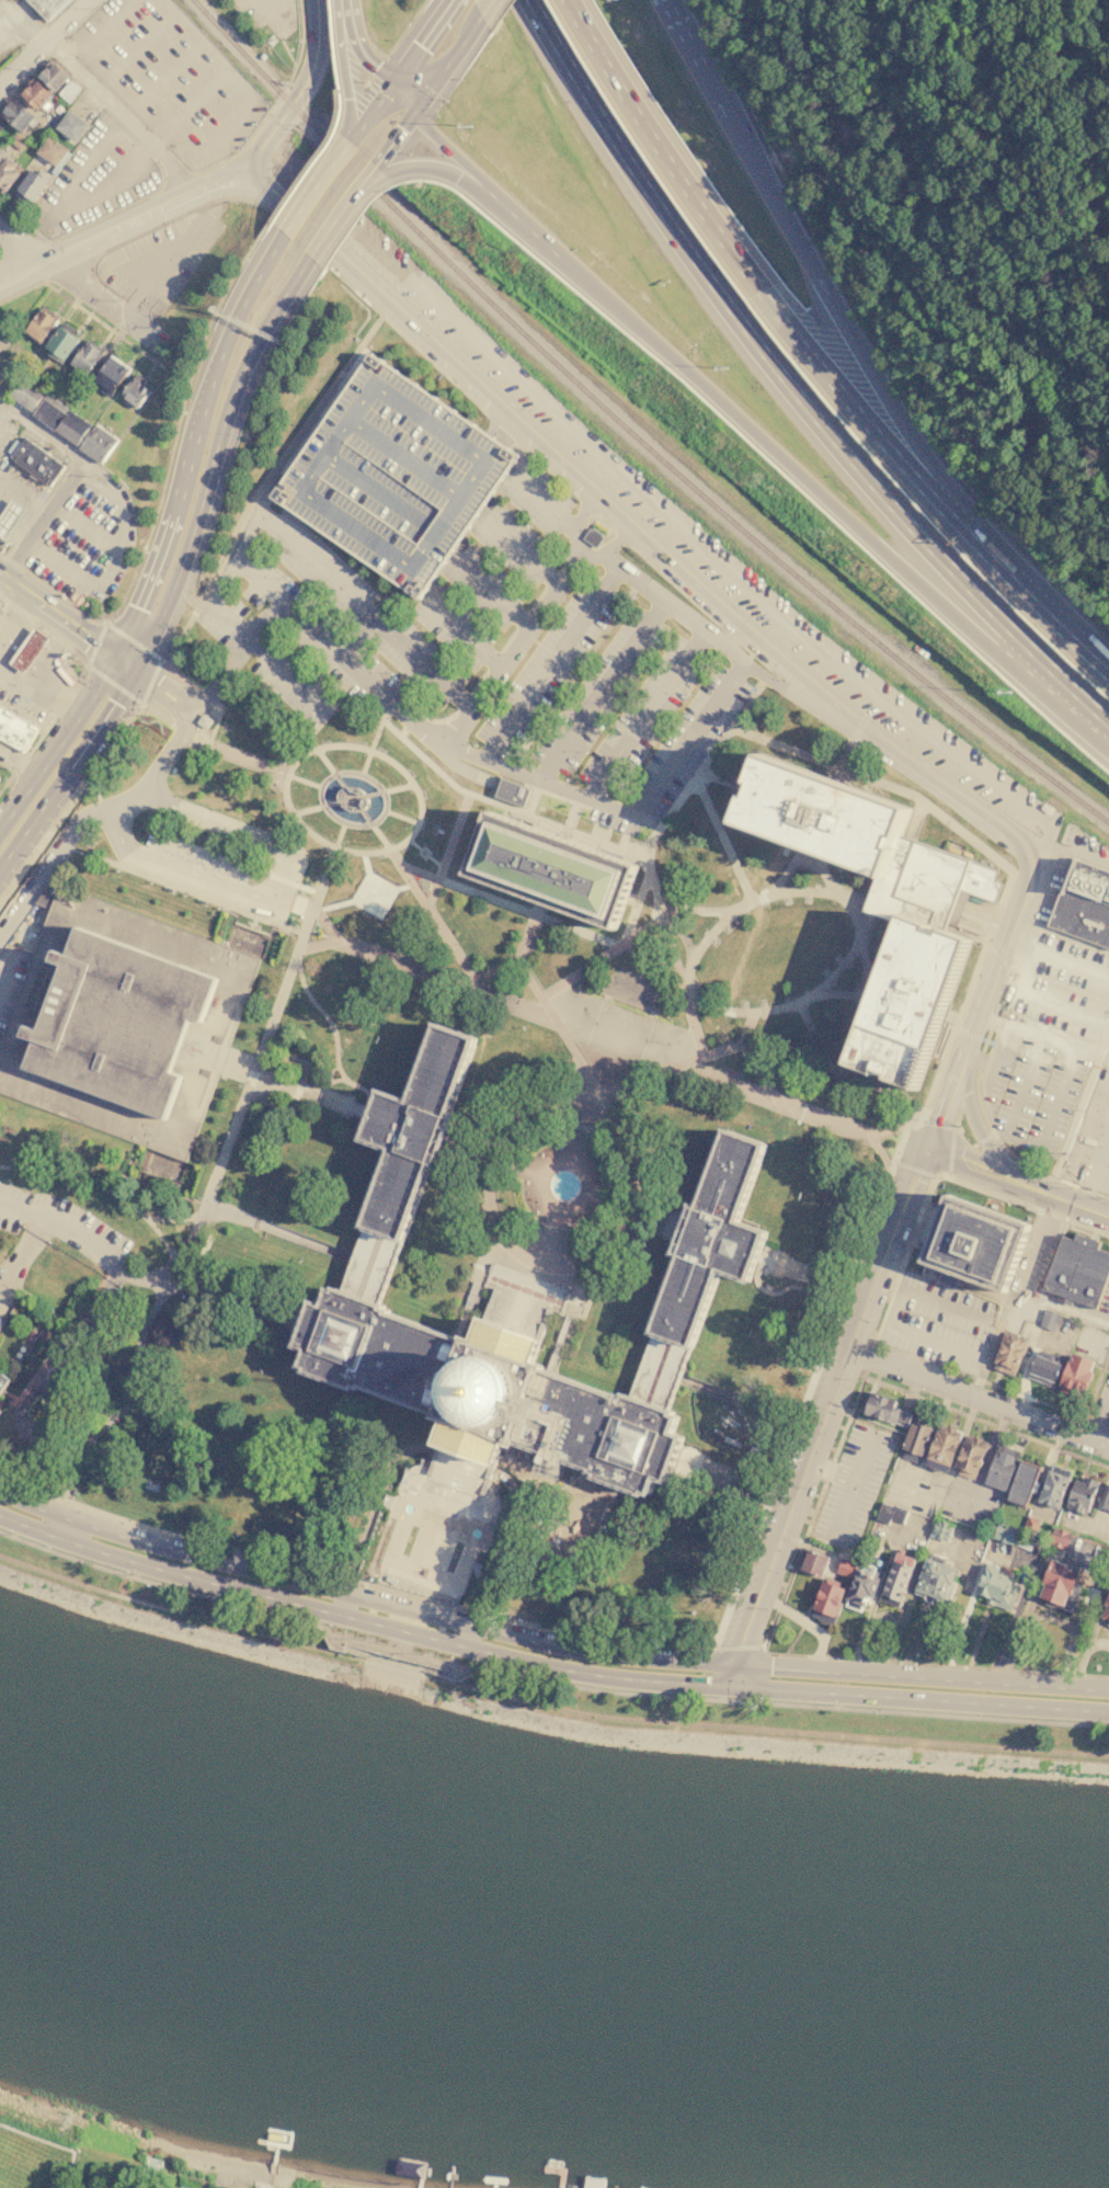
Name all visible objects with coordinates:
road: (272, 4)
building: (47, 7)
road: (346, 9)
road: (485, 9)
parking lot: (267, 16)
road: (106, 24)
road: (585, 24)
road: (35, 35)
road: (422, 41)
road: (682, 42)
road: (42, 43)
road: (141, 45)
road: (70, 46)
road: (207, 47)
traffic signals: (416, 49)
road: (365, 54)
road: (447, 64)
traffic signals: (376, 67)
road: (169, 72)
building: (53, 77)
parking lot: (170, 77)
road: (351, 80)
road: (305, 81)
building: (69, 91)
building: (34, 94)
road: (129, 96)
road: (403, 96)
road: (196, 101)
road: (274, 103)
road: (371, 112)
building: (15, 113)
road: (122, 116)
traffic signals: (404, 124)
building: (1, 125)
building: (72, 125)
street lamp: (469, 126)
road: (225, 129)
road: (393, 137)
building: (19, 140)
road: (178, 145)
building: (52, 150)
road: (445, 150)
building: (0, 158)
road: (251, 158)
road: (678, 169)
road: (434, 170)
building: (7, 174)
road: (178, 174)
road: (229, 174)
parking lot: (95, 179)
road: (227, 180)
building: (31, 185)
road: (317, 189)
road: (366, 190)
road: (57, 209)
road: (341, 212)
road: (82, 226)
road: (108, 238)
parking lot: (167, 259)
parking lot: (161, 260)
road: (164, 271)
road: (83, 294)
road: (222, 296)
road: (837, 307)
road: (83, 309)
road: (236, 315)
building: (41, 324)
building: (61, 343)
building: (88, 358)
road: (425, 360)
street lamp: (724, 369)
building: (111, 378)
road: (789, 388)
building: (136, 394)
building: (27, 395)
building: (49, 411)
road: (3, 412)
road: (858, 415)
road: (503, 425)
building: (71, 428)
road: (530, 429)
railway: (630, 431)
road: (307, 433)
building: (98, 444)
road: (80, 459)
road: (213, 463)
building: (36, 464)
road: (790, 468)
building: (393, 476)
parking lot: (393, 476)
road: (24, 497)
road: (253, 499)
parking lot: (537, 499)
road: (540, 500)
road: (174, 505)
road: (660, 506)
parking lot: (674, 516)
building: (9, 517)
gas station: (9, 517)
road: (93, 533)
road: (285, 535)
building: (593, 537)
parking lot: (85, 538)
parking lot: (515, 544)
road: (518, 547)
road: (119, 554)
road: (15, 559)
road: (573, 560)
road: (136, 567)
road: (258, 578)
parking lot: (484, 585)
road: (490, 589)
road: (4, 590)
road: (192, 600)
road: (1037, 603)
road: (42, 607)
traffic signals: (137, 607)
parking lot: (362, 609)
road: (672, 609)
road: (14, 617)
road: (370, 623)
road: (110, 625)
parking lot: (455, 627)
road: (45, 629)
road: (460, 630)
road: (124, 634)
road: (521, 636)
traffic signals: (84, 639)
parking lot: (327, 641)
building: (28, 650)
gas station: (28, 650)
road: (98, 650)
street lamp: (524, 656)
parking lot: (273, 663)
road: (549, 663)
parking lot: (549, 665)
road: (123, 669)
road: (485, 672)
road: (41, 687)
road: (124, 691)
traffic signals: (155, 691)
road: (213, 691)
road: (601, 692)
parking lot: (601, 693)
street lamp: (691, 694)
road: (163, 696)
traffic signals: (114, 705)
road: (645, 716)
parking lot: (647, 716)
road: (865, 719)
road: (216, 720)
building: (204, 721)
road: (48, 723)
building: (15, 730)
road: (312, 730)
street lamp: (476, 744)
road: (58, 748)
street lamp: (588, 751)
parking lot: (677, 752)
road: (845, 754)
street lamp: (506, 755)
road: (22, 759)
road: (250, 761)
flagpole: (283, 763)
road: (699, 770)
flagpole: (278, 771)
road: (466, 771)
road: (927, 771)
road: (10, 774)
flagpole: (276, 777)
street lamp: (570, 779)
road: (727, 779)
park: (339, 783)
road: (80, 785)
road: (57, 786)
road: (655, 788)
building: (354, 790)
road: (380, 791)
building: (512, 791)
building: (339, 795)
street lamp: (608, 795)
road: (187, 797)
parking lot: (194, 799)
road: (352, 799)
building: (363, 802)
street lamp: (946, 805)
building: (347, 807)
building: (1047, 808)
building: (824, 814)
road: (401, 817)
road: (915, 819)
road: (249, 832)
road: (561, 833)
road: (722, 839)
street lamp: (47, 842)
road: (414, 844)
road: (388, 848)
street lamp: (658, 851)
road: (1071, 851)
road: (430, 852)
road: (447, 853)
street lamp: (1009, 858)
road: (190, 861)
road: (434, 862)
parking lot: (199, 868)
road: (790, 868)
building: (552, 869)
street lamp: (117, 870)
street lamp: (448, 871)
road: (825, 871)
street lamp: (1006, 874)
street lamp: (151, 882)
building: (927, 885)
road: (183, 890)
street lamp: (459, 893)
street lamp: (185, 894)
street lamp: (774, 901)
street lamp: (833, 901)
building: (961, 901)
road: (301, 903)
road: (661, 903)
building: (1083, 904)
street lamp: (3, 905)
road: (511, 905)
street lamp: (218, 907)
road: (862, 910)
street lamp: (526, 918)
street lamp: (735, 920)
street lamp: (339, 924)
street lamp: (542, 924)
road: (528, 931)
road: (988, 932)
street lamp: (294, 936)
road: (625, 937)
road: (335, 941)
street lamp: (848, 943)
building: (208, 953)
road: (998, 955)
road: (1003, 957)
road: (1059, 959)
road: (594, 962)
road: (864, 962)
road: (402, 966)
road: (641, 972)
road: (0, 980)
street lamp: (305, 981)
street lamp: (814, 981)
street lamp: (580, 984)
parking lot: (9, 991)
road: (843, 992)
street lamp: (274, 993)
road: (1041, 1002)
building: (911, 1004)
road: (317, 1005)
street lamp: (324, 1010)
road: (534, 1014)
building: (118, 1022)
road: (213, 1023)
street lamp: (681, 1023)
road: (747, 1027)
road: (970, 1034)
road: (1039, 1037)
street lamp: (378, 1038)
street lamp: (340, 1041)
road: (1104, 1041)
parking lot: (1057, 1044)
road: (259, 1049)
street lamp: (252, 1052)
road: (990, 1055)
road: (334, 1062)
road: (350, 1082)
road: (1099, 1082)
street lamp: (240, 1084)
road: (296, 1085)
road: (298, 1085)
road: (947, 1085)
road: (1024, 1086)
road: (607, 1090)
street lamp: (350, 1094)
road: (1059, 1099)
road: (1094, 1115)
road: (984, 1116)
traffic signals: (936, 1118)
road: (1073, 1126)
building: (142, 1132)
road: (930, 1132)
road: (953, 1135)
road: (985, 1138)
road: (874, 1139)
road: (985, 1139)
street lamp: (219, 1141)
road: (963, 1142)
road: (1095, 1150)
building: (407, 1154)
road: (941, 1154)
road: (572, 1160)
traffic signals: (960, 1161)
road: (918, 1163)
road: (914, 1169)
road: (1004, 1177)
traffic signals: (913, 1180)
park: (95, 1182)
fountain: (563, 1185)
street lamp: (72, 1190)
street lamp: (800, 1194)
street lamp: (198, 1196)
road: (1078, 1206)
street lamp: (118, 1217)
street lamp: (393, 1219)
street lamp: (163, 1228)
road: (277, 1230)
road: (89, 1243)
building: (974, 1245)
parking lot: (100, 1251)
road: (24, 1253)
building: (704, 1262)
road: (882, 1264)
building: (1078, 1272)
road: (813, 1278)
road: (167, 1289)
road: (777, 1291)
road: (1011, 1295)
road: (238, 1299)
road: (895, 1306)
road: (887, 1307)
street lamp: (674, 1320)
building: (1049, 1320)
building: (1, 1322)
parking lot: (938, 1323)
flagpole: (344, 1337)
building: (1010, 1355)
road: (869, 1358)
building: (1045, 1368)
street lamp: (261, 1369)
road: (913, 1370)
building: (1077, 1375)
road: (41, 1379)
building: (3, 1383)
parking lot: (819, 1389)
building: (489, 1390)
road: (750, 1404)
building: (888, 1411)
road: (1041, 1420)
road: (1101, 1420)
road: (961, 1436)
building: (916, 1439)
flagpole: (633, 1444)
building: (942, 1449)
building: (971, 1458)
road: (986, 1462)
building: (1002, 1468)
road: (833, 1470)
road: (721, 1480)
building: (1022, 1484)
road: (853, 1486)
parking lot: (854, 1486)
parking lot: (916, 1488)
building: (1053, 1490)
building: (1083, 1495)
road: (377, 1497)
parking lot: (971, 1502)
road: (921, 1504)
building: (1107, 1504)
road: (792, 1507)
fountain: (408, 1508)
building: (884, 1513)
building: (898, 1515)
street lamp: (136, 1520)
street lamp: (678, 1522)
park: (439, 1526)
road: (64, 1529)
building: (942, 1530)
fountain: (476, 1532)
street lamp: (16, 1534)
building: (1013, 1536)
road: (508, 1537)
building: (1060, 1539)
road: (376, 1547)
road: (798, 1552)
road: (1008, 1562)
building: (811, 1563)
building: (845, 1566)
street lamp: (139, 1575)
road: (918, 1575)
road: (1038, 1580)
building: (896, 1581)
building: (936, 1582)
building: (1060, 1584)
building: (864, 1586)
building: (998, 1586)
road: (343, 1597)
road: (364, 1598)
road: (874, 1599)
building: (828, 1604)
road: (313, 1610)
building: (1107, 1611)
road: (1044, 1615)
road: (964, 1617)
road: (1013, 1619)
building: (1108, 1625)
road: (809, 1626)
road: (981, 1627)
road: (471, 1629)
road: (799, 1629)
road: (916, 1632)
road: (892, 1636)
flagpole: (370, 1640)
road: (628, 1640)
traffic signals: (743, 1642)
road: (334, 1643)
road: (738, 1646)
flagpole: (428, 1653)
road: (1083, 1655)
road: (370, 1659)
road: (416, 1671)
traffic signals: (771, 1671)
road: (710, 1674)
road: (457, 1675)
road: (735, 1677)
road: (923, 1678)
road: (541, 1680)
road: (684, 1682)
traffic signals: (709, 1685)
road: (784, 1689)
road: (916, 1699)
street lamp: (839, 1705)
road: (545, 1707)
road: (1054, 1709)
street lamp: (976, 1713)
river: (546, 1979)
road: (55, 2143)
park: (31, 2162)

